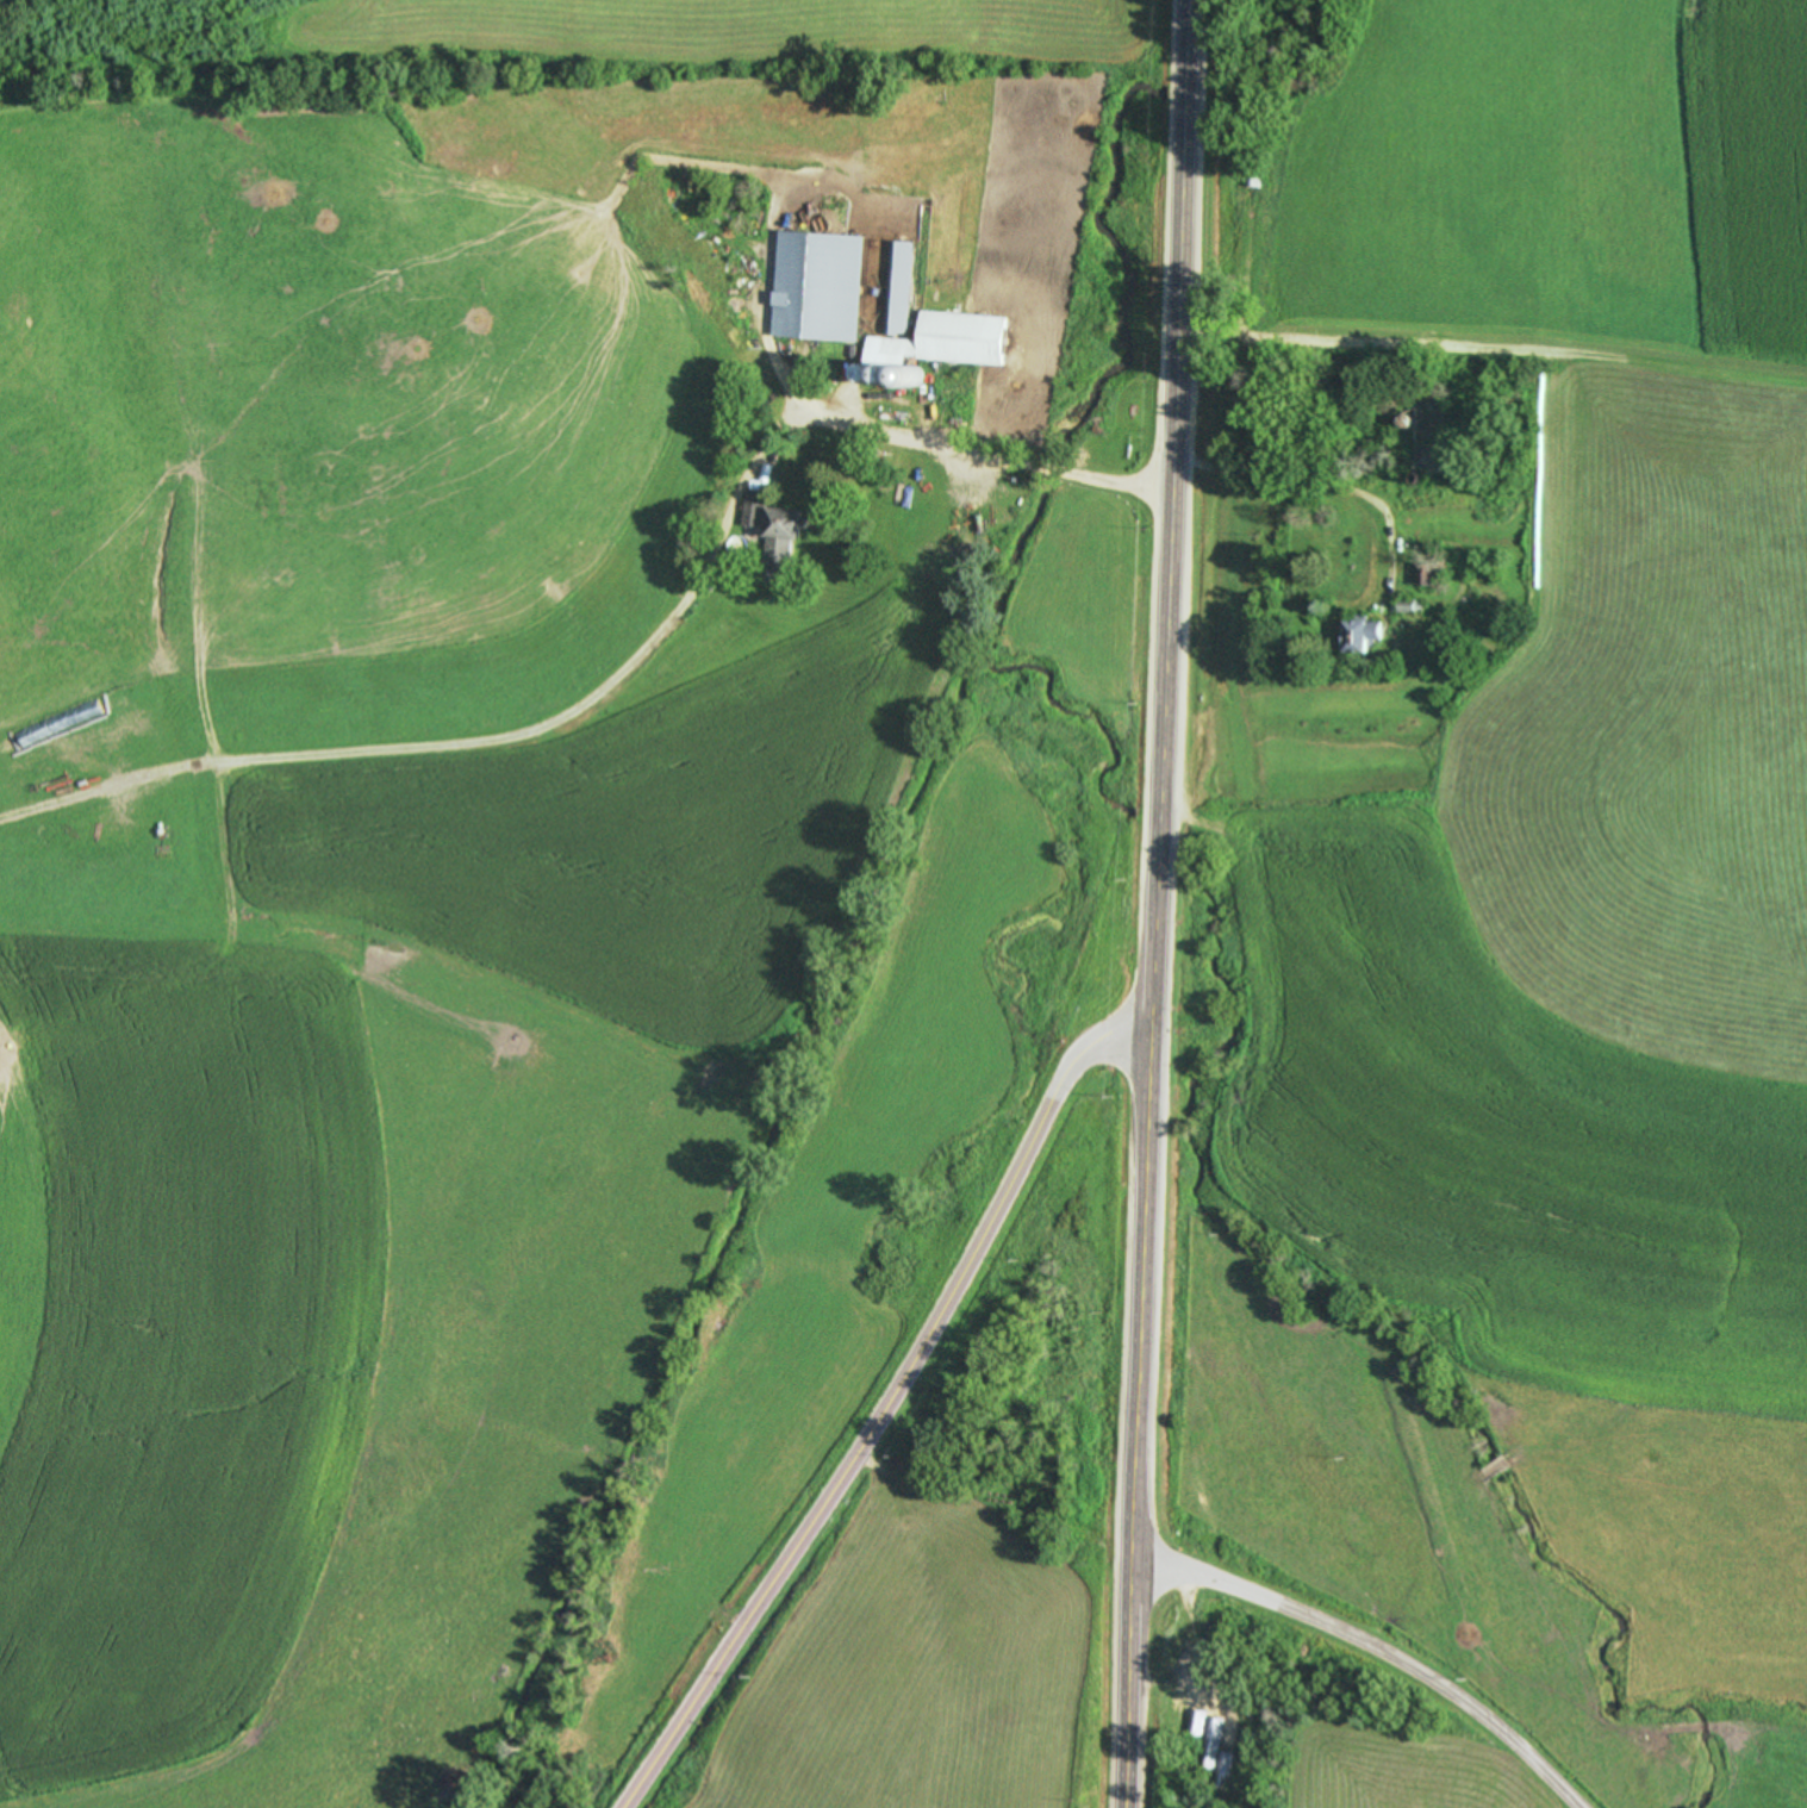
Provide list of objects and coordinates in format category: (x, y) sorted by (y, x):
building: (1248, 220)
building: (818, 283)
building: (898, 287)
building: (941, 341)
road: (1493, 348)
building: (1427, 451)
road: (970, 454)
road: (1323, 481)
building: (753, 506)
road: (725, 509)
building: (783, 535)
building: (1428, 572)
building: (1360, 634)
road: (1153, 904)
road: (880, 1405)
road: (991, 1496)
road: (1369, 1647)

